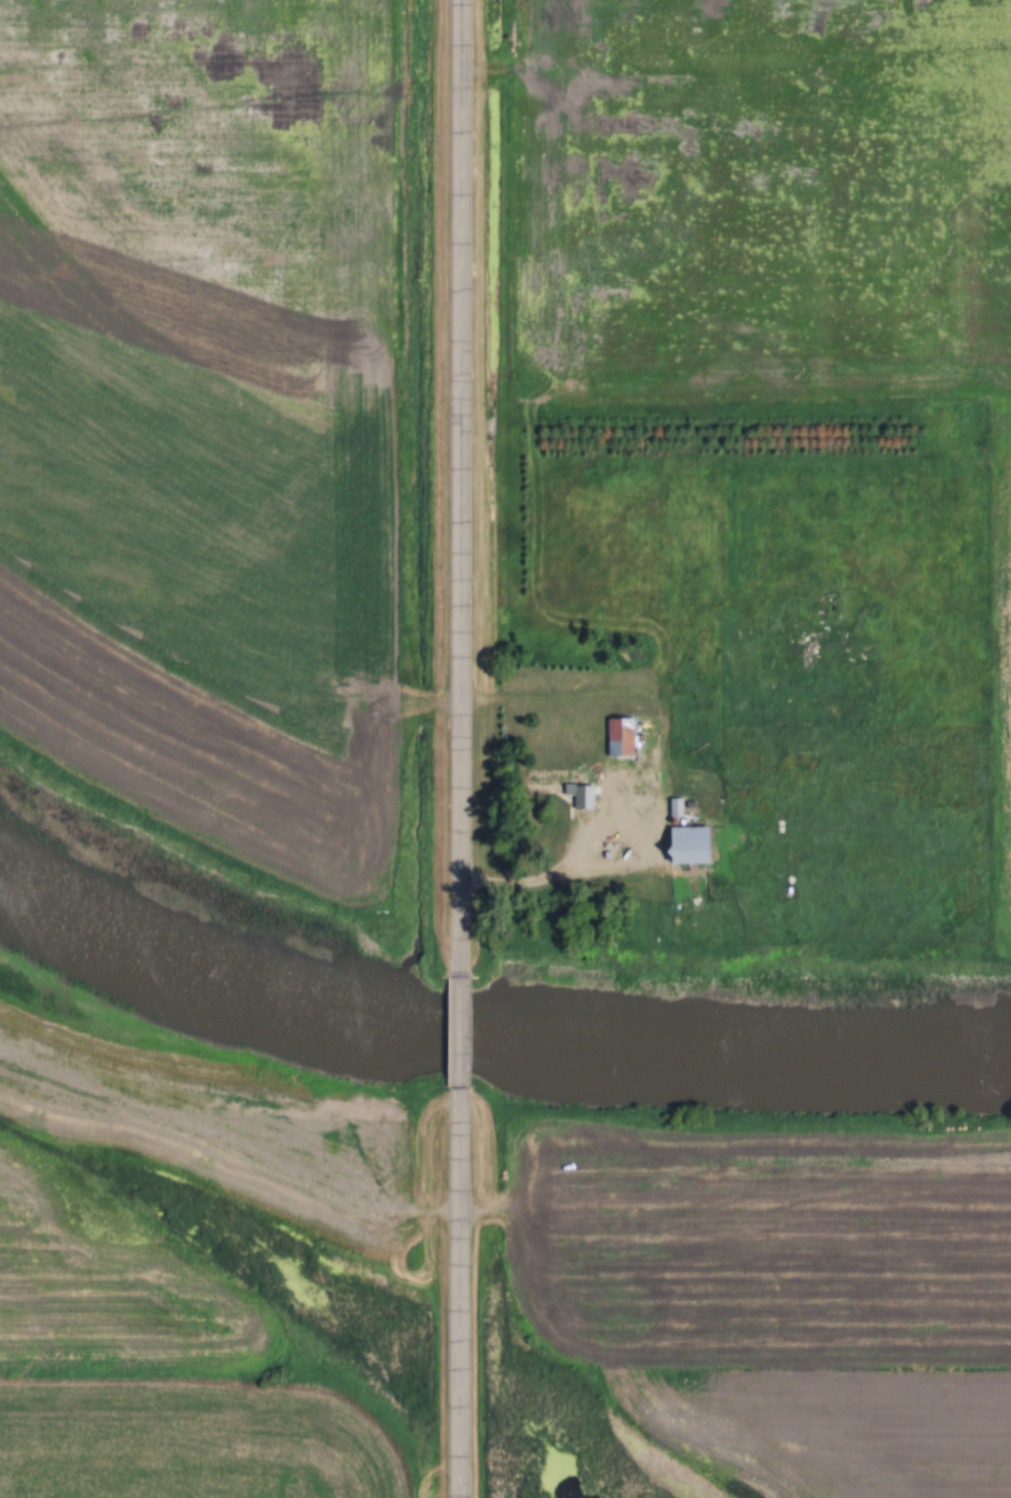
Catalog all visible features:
road: (464, 490)
building: (618, 737)
building: (565, 786)
building: (686, 845)
river: (160, 950)
road: (460, 1040)
river: (665, 1064)
road: (438, 1215)
road: (459, 1298)

